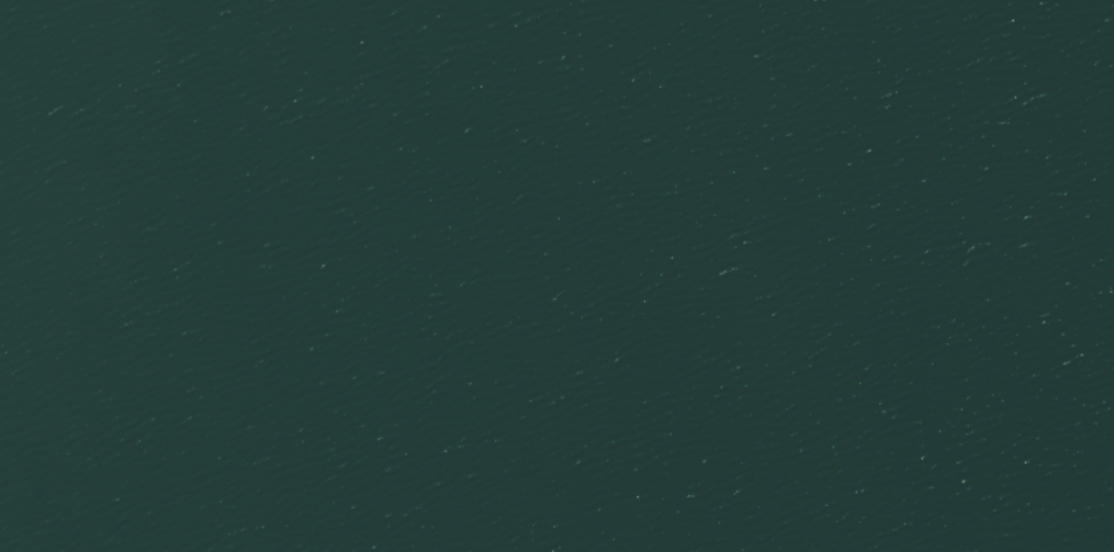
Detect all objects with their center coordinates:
river: (854, 275)

